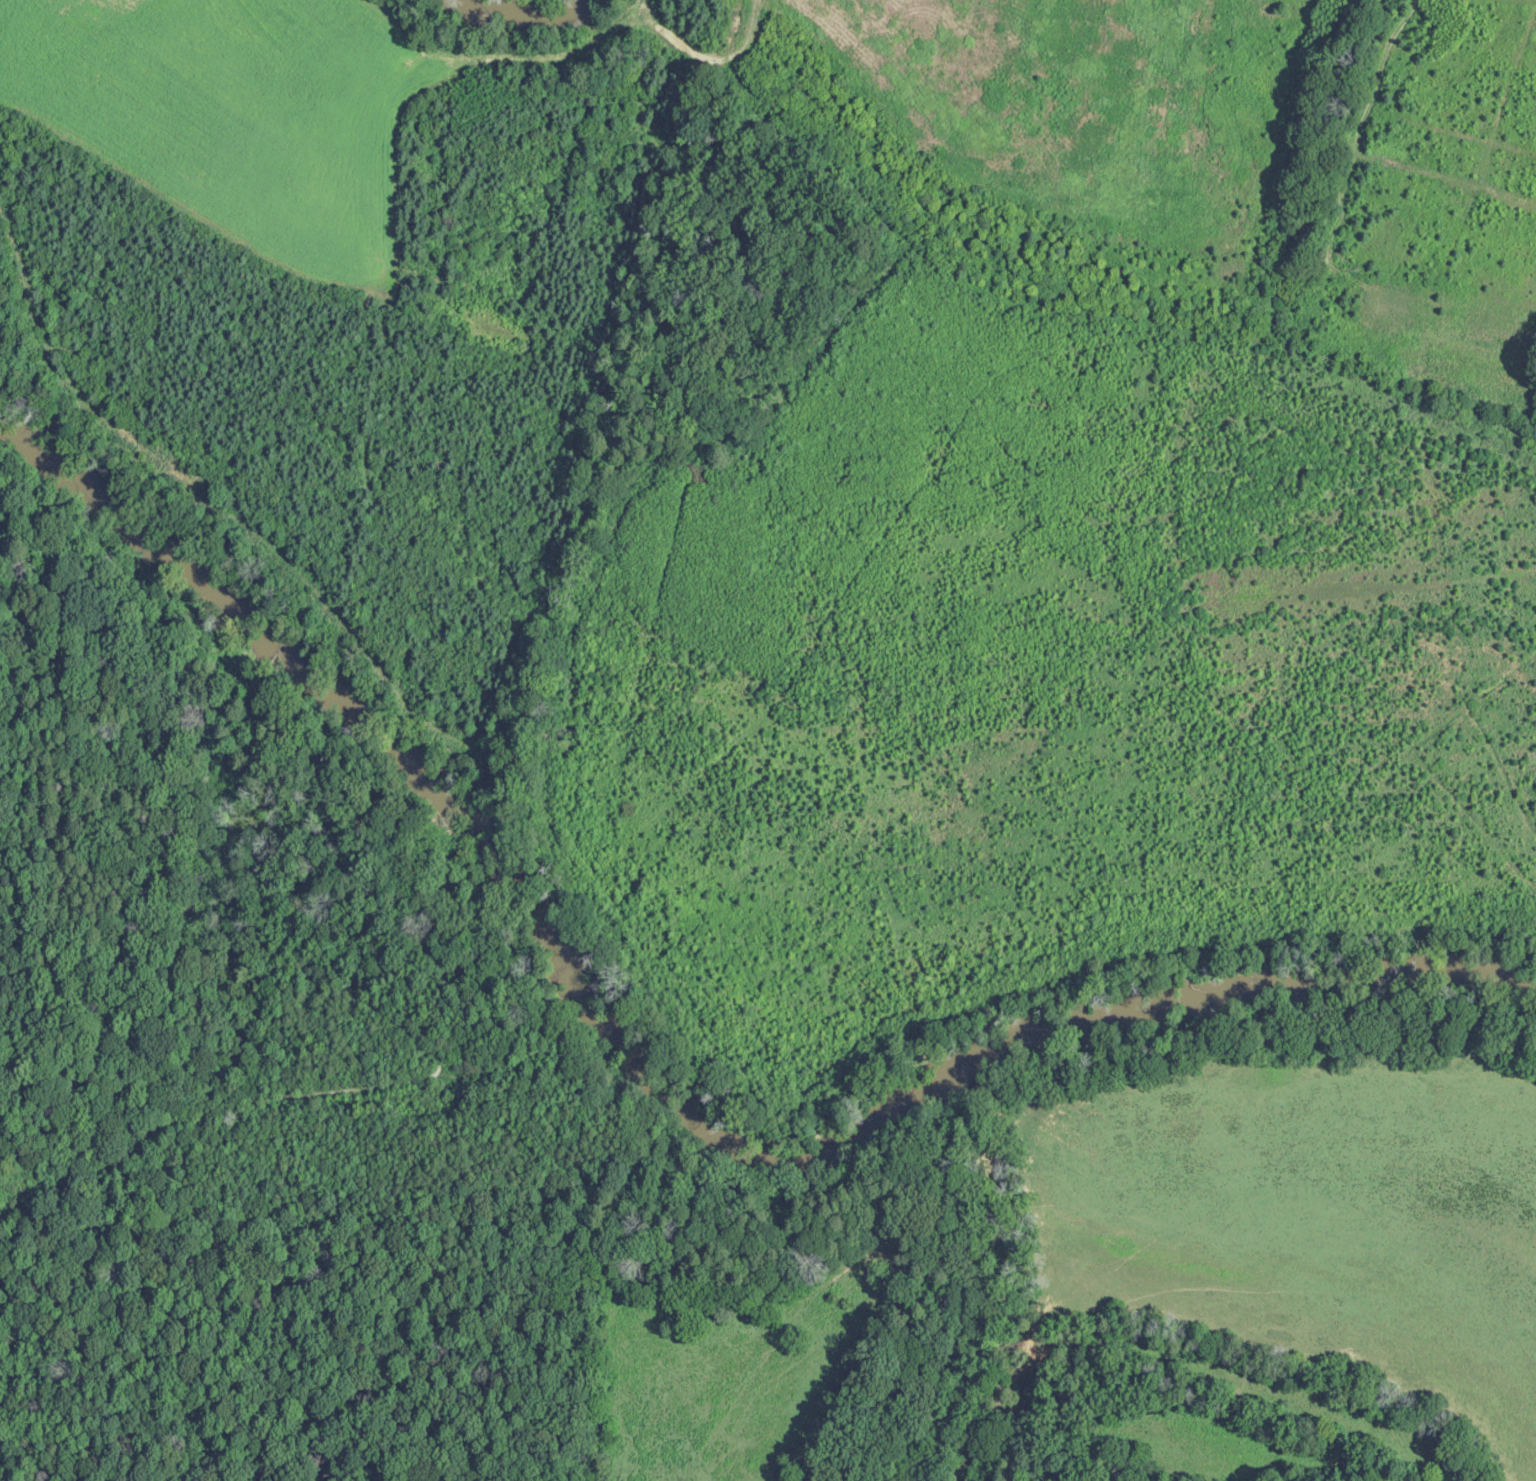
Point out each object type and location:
river: (529, 3)
river: (482, 872)
river: (1246, 1019)
road: (228, 1105)

